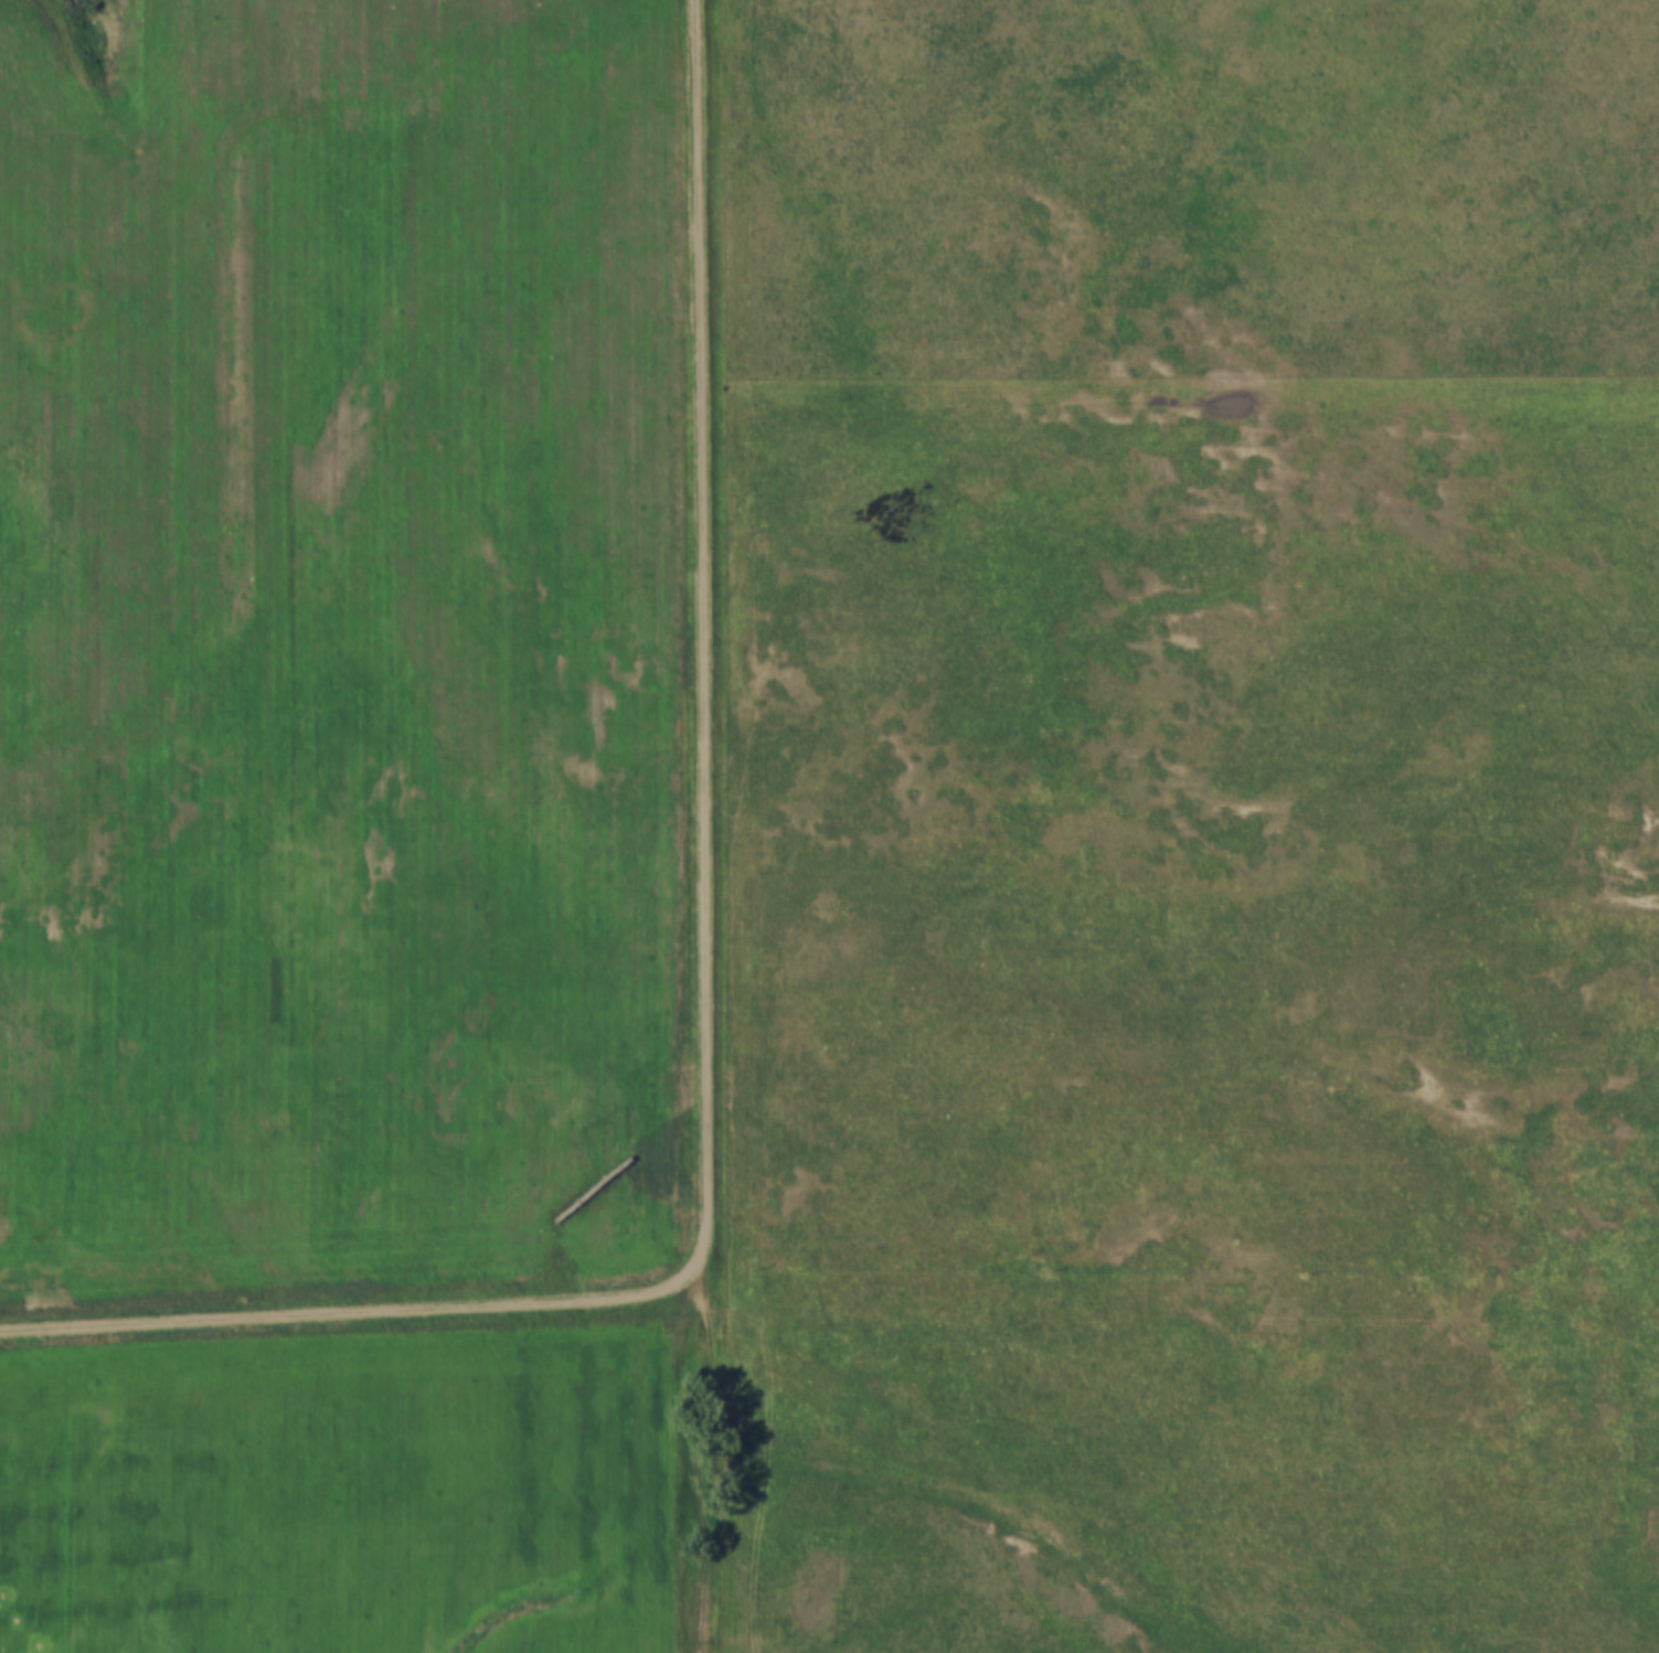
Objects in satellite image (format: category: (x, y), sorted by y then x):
road: (709, 643)
road: (355, 1307)
road: (709, 1470)

